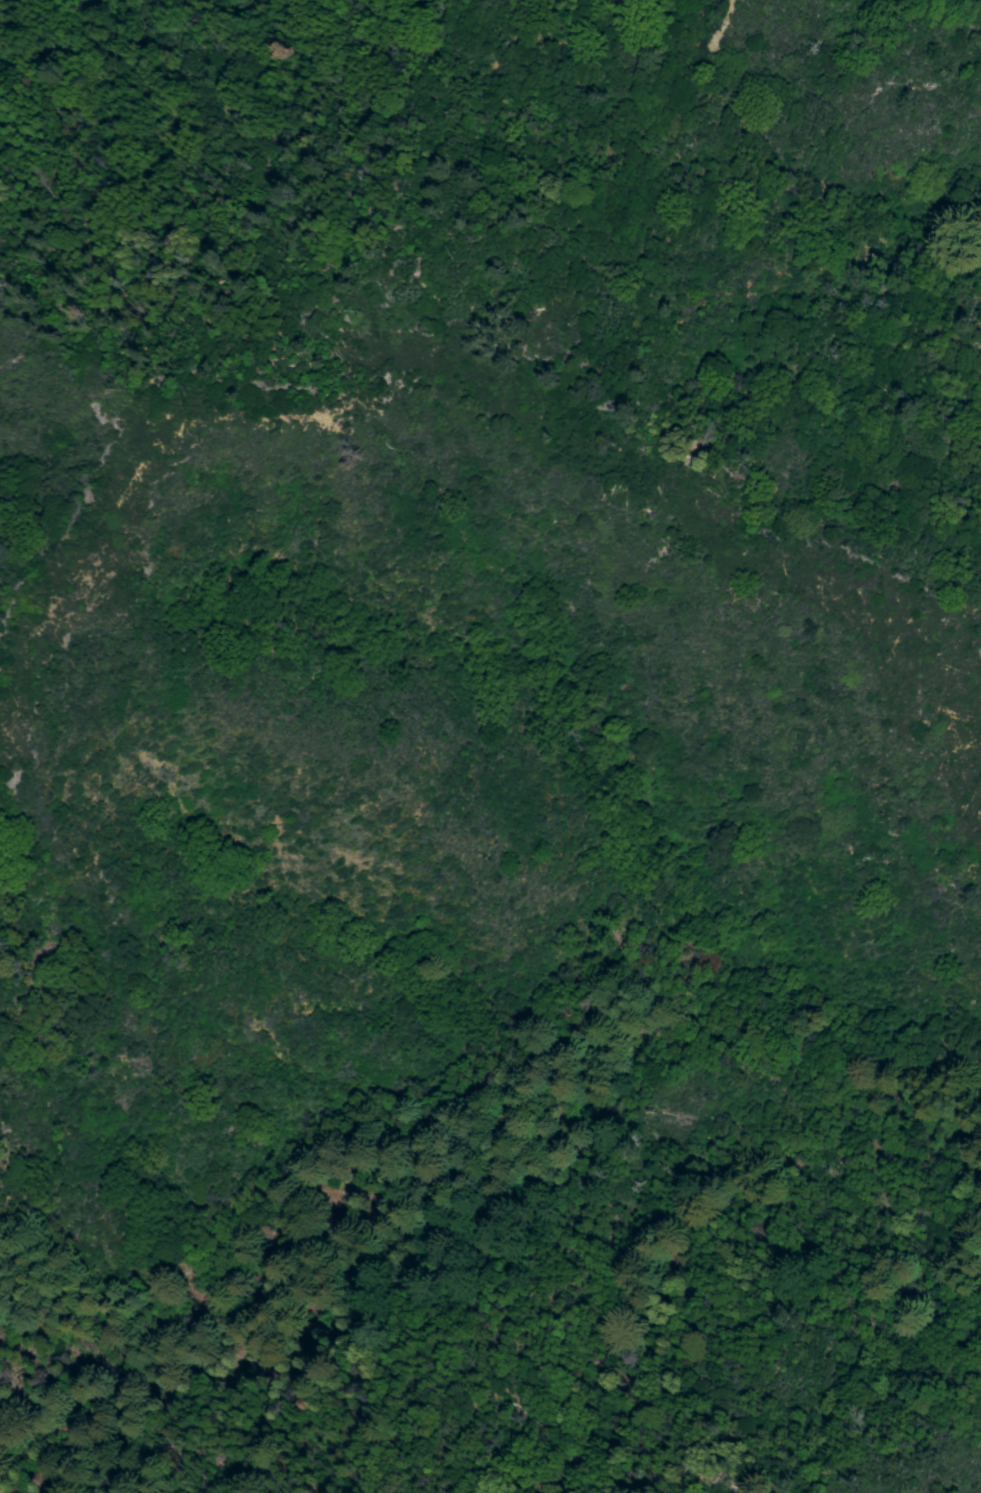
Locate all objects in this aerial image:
road: (733, 22)

